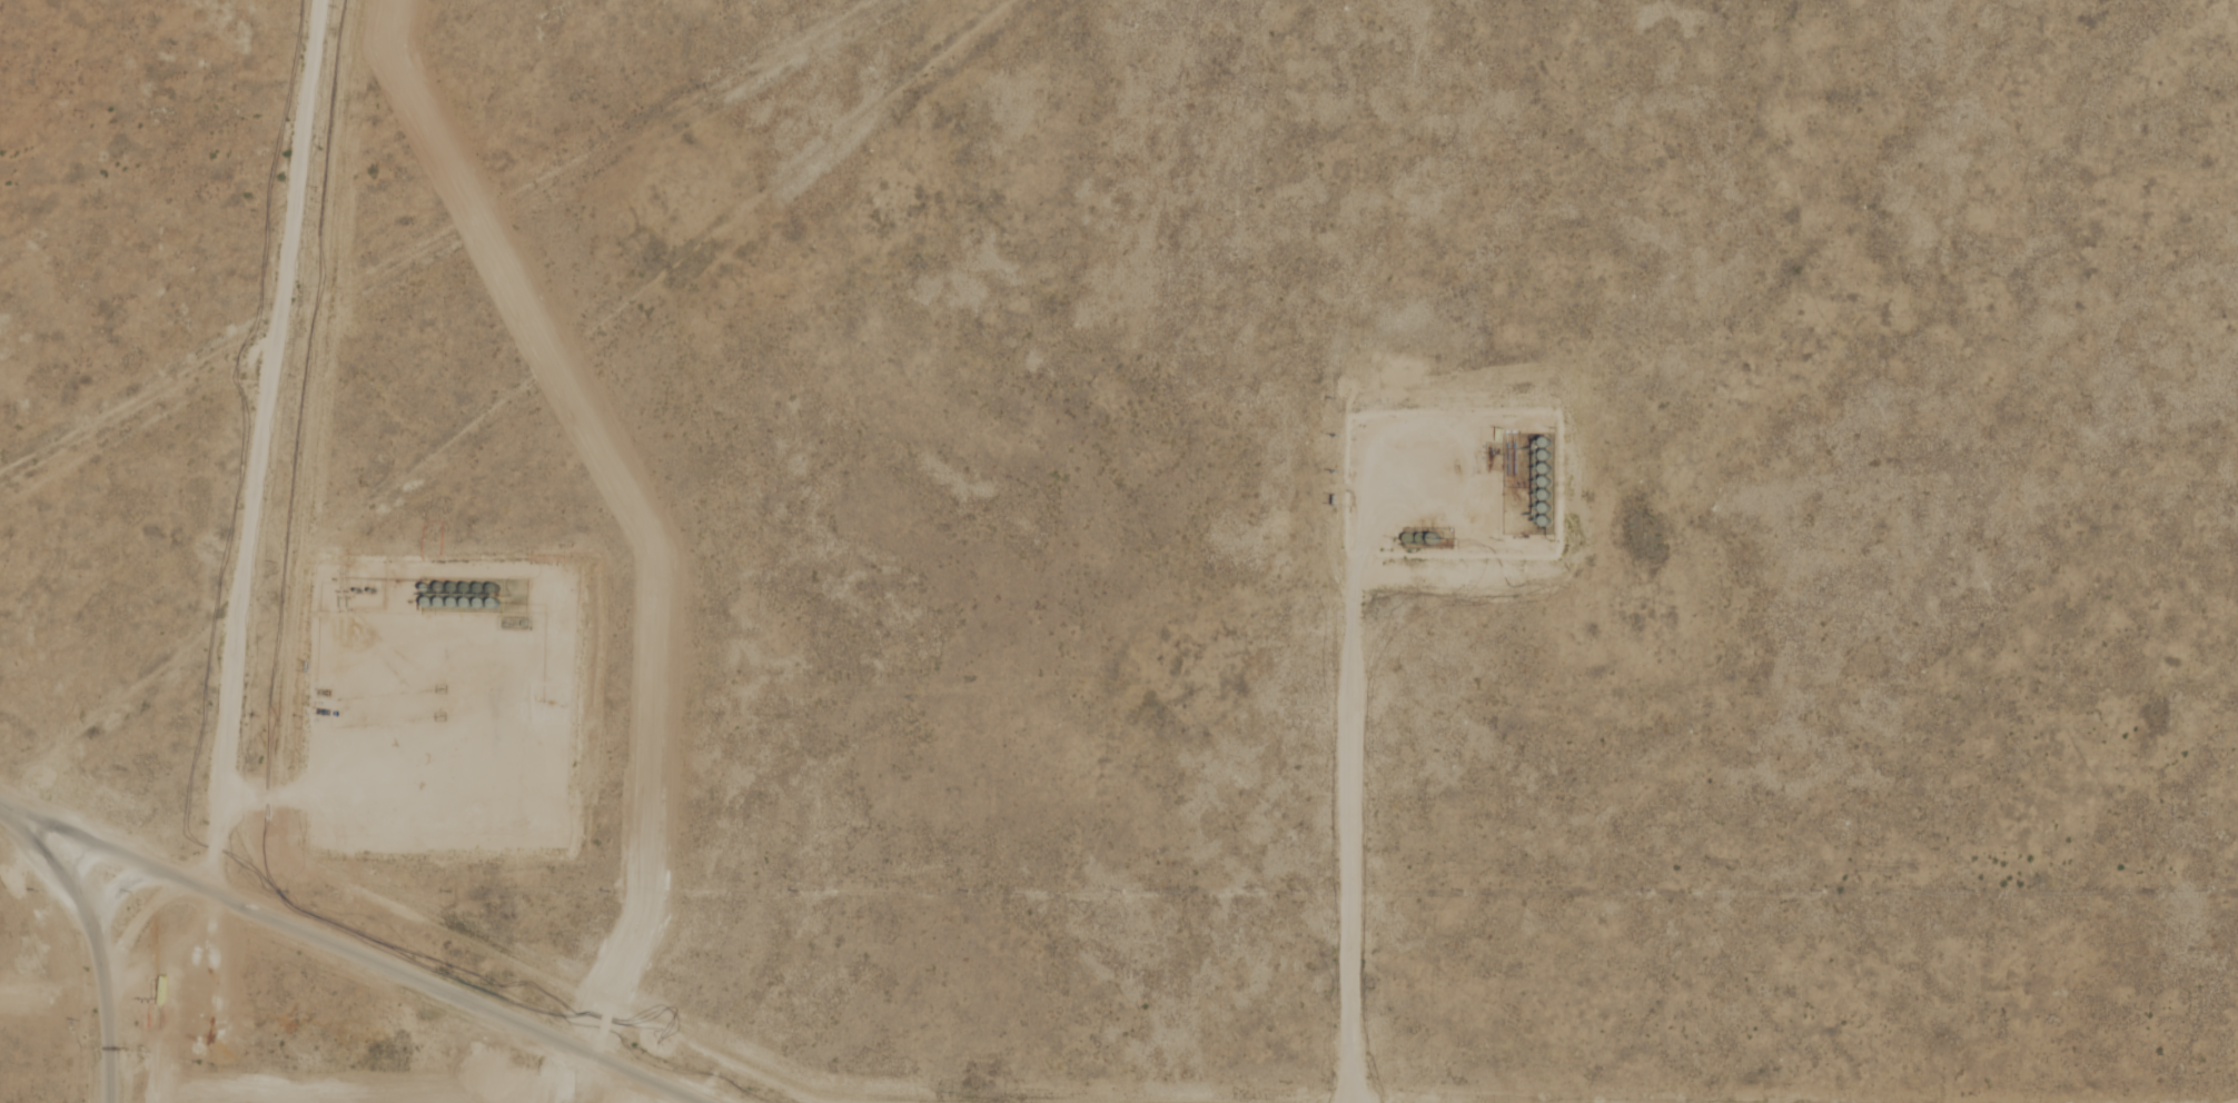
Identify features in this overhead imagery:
road: (260, 444)
petroleum well: (1447, 478)
road: (1361, 768)
road: (96, 843)
road: (98, 946)
road: (463, 993)

